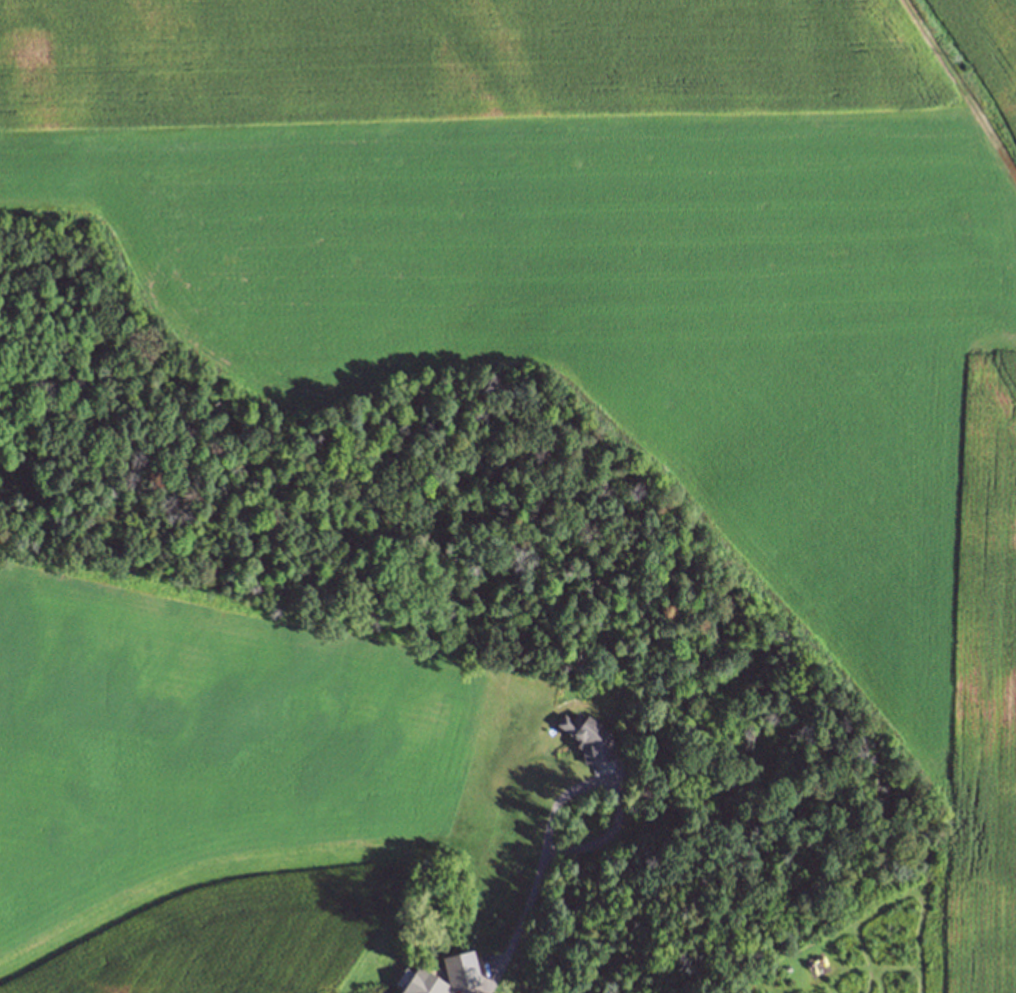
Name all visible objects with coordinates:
building: (589, 734)
road: (611, 786)
road: (521, 922)

